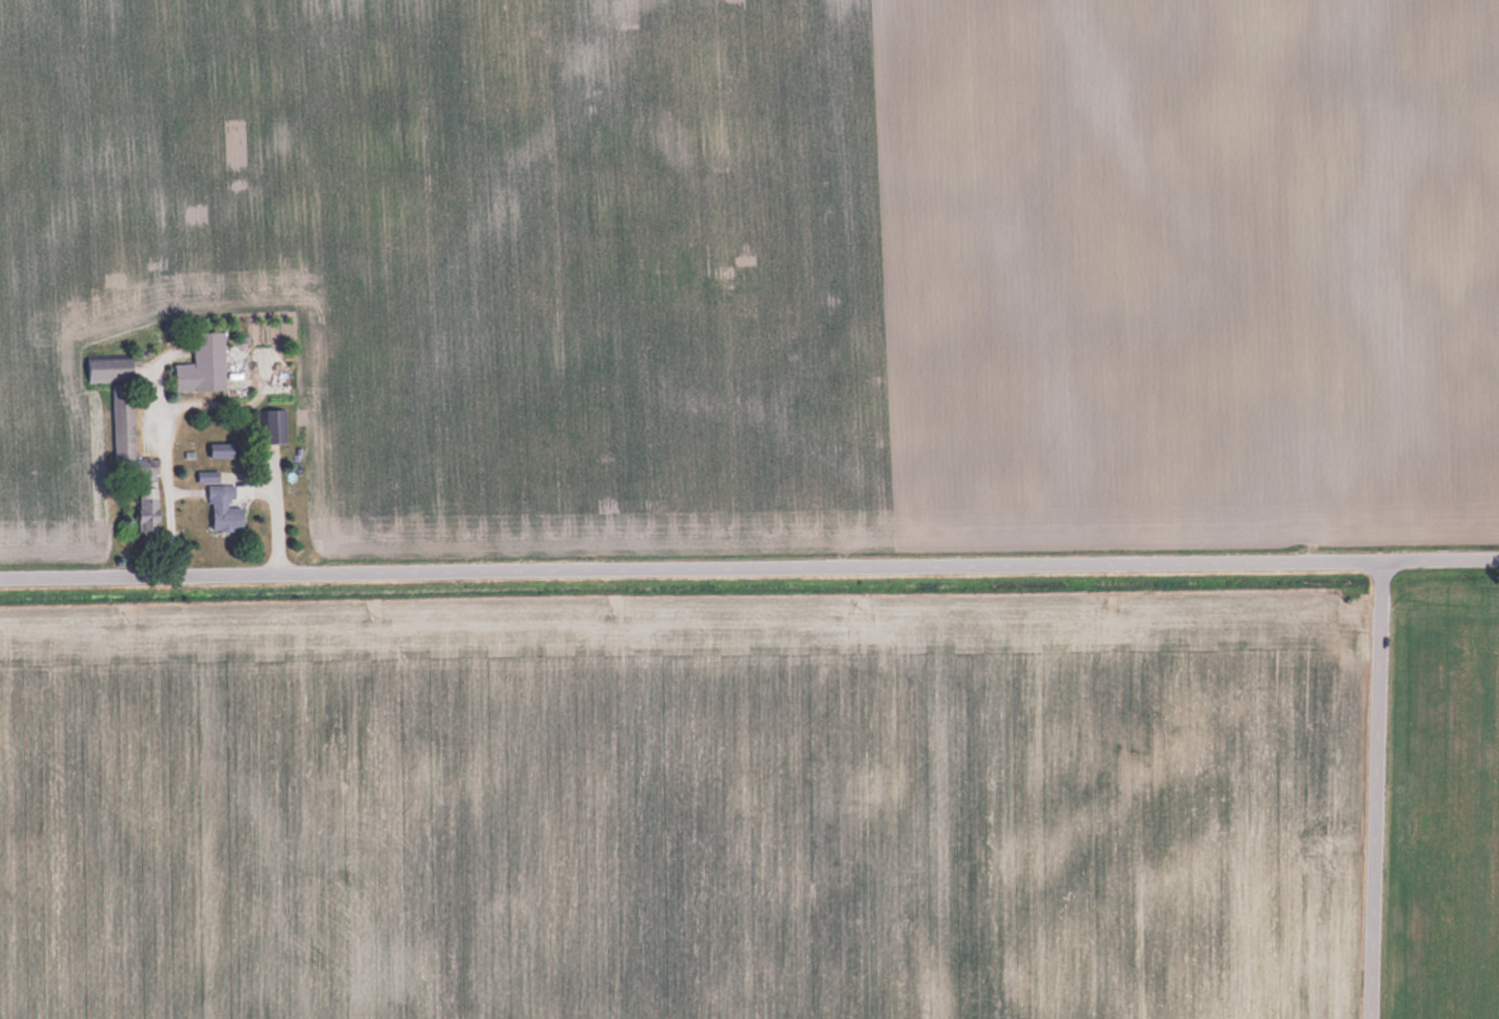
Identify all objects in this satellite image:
building: (202, 364)
building: (116, 399)
building: (275, 425)
building: (220, 449)
road: (163, 471)
building: (206, 476)
building: (223, 509)
building: (146, 510)
road: (275, 512)
road: (749, 573)
road: (1378, 794)

